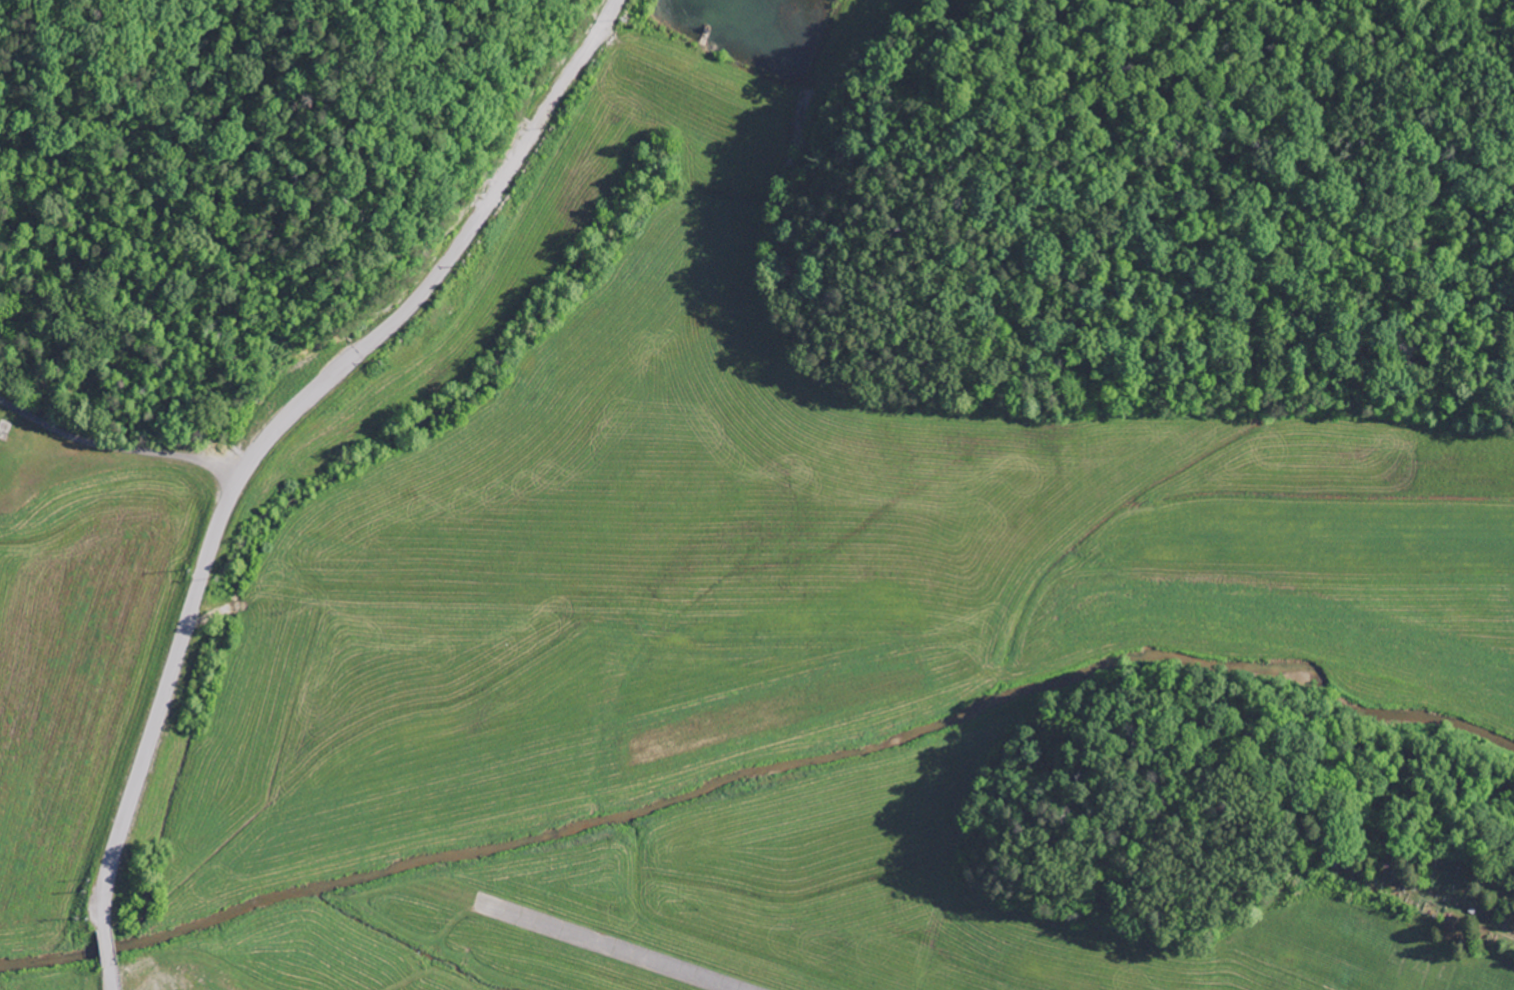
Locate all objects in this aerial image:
road: (396, 340)
park: (1403, 866)
airport runway: (604, 948)

